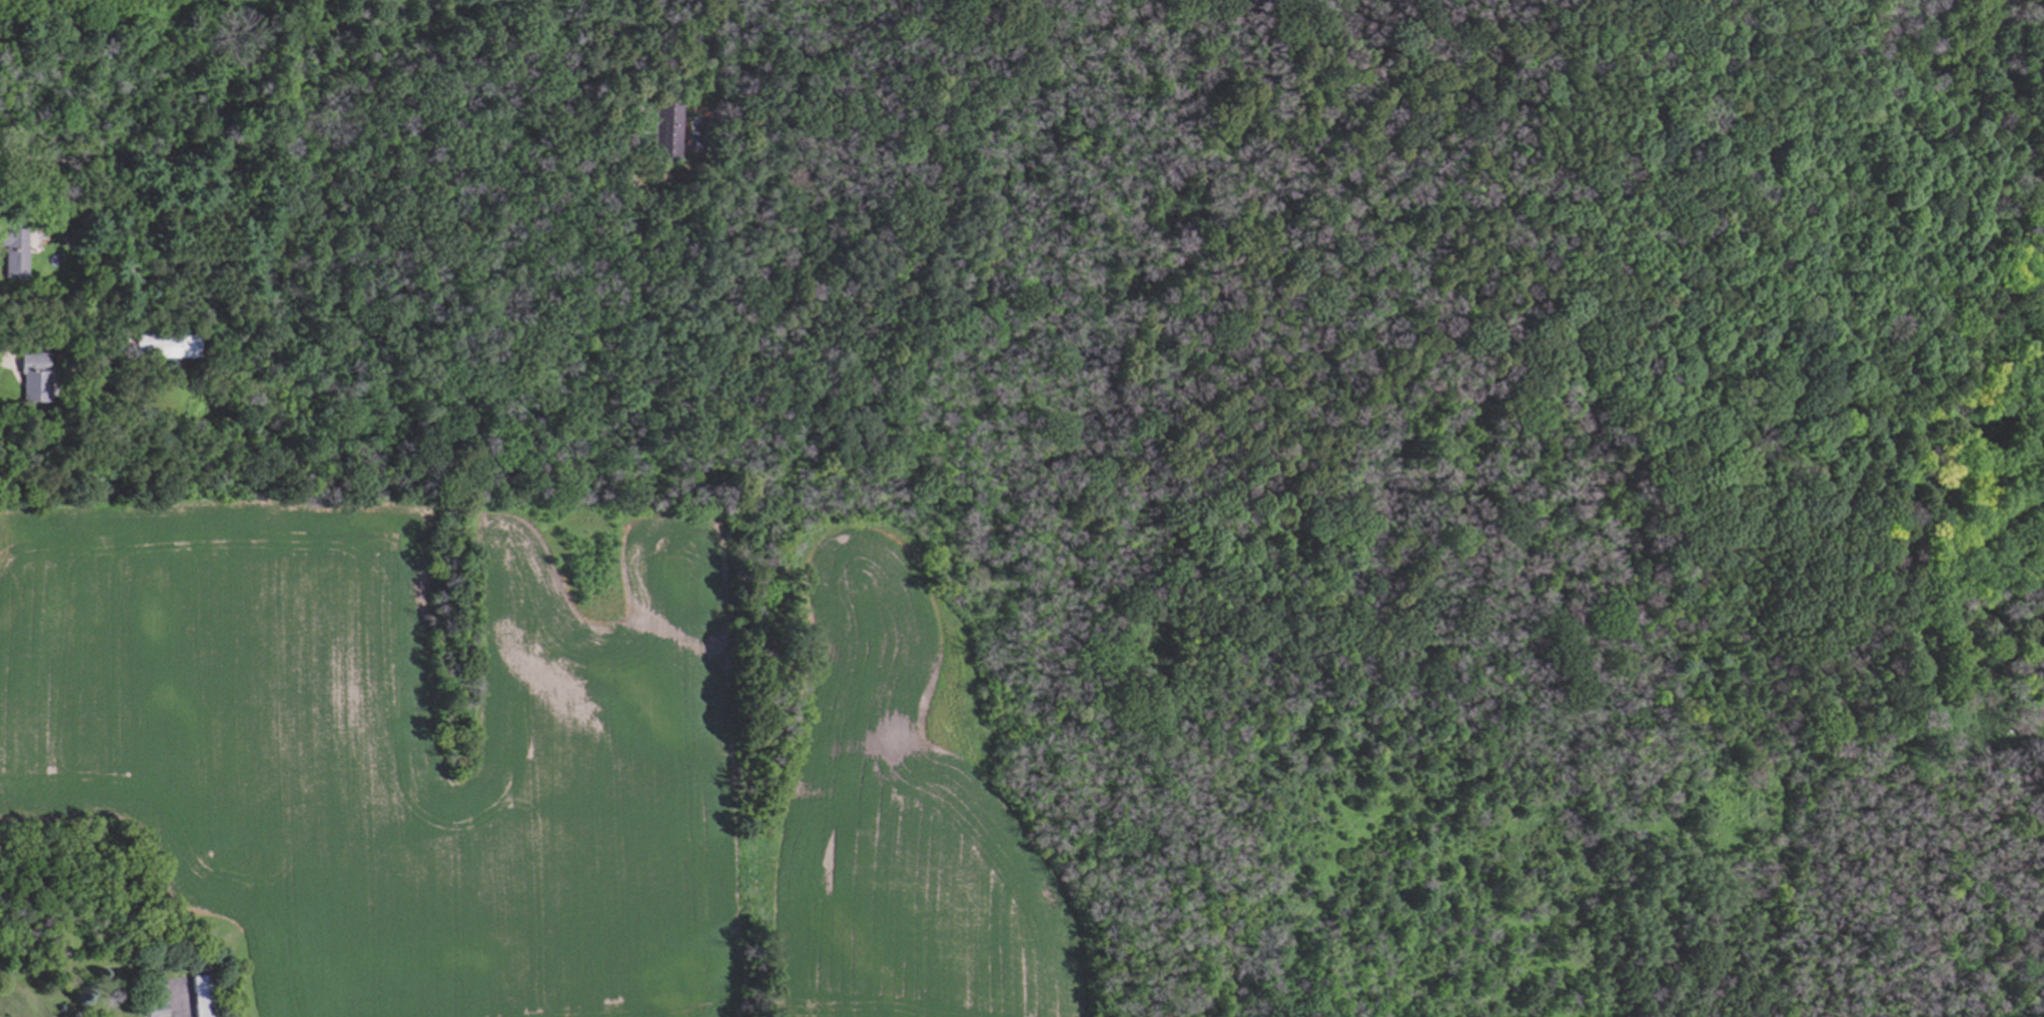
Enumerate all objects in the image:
quarry: (1594, 4)
building: (665, 131)
road: (323, 162)
building: (15, 252)
building: (166, 346)
road: (4, 358)
building: (34, 378)
crop: (527, 765)
building: (202, 996)
road: (177, 1004)

